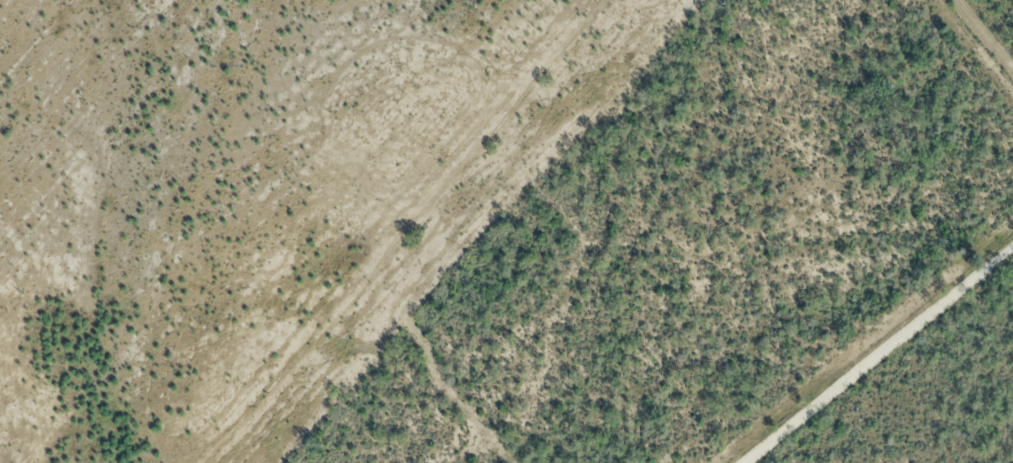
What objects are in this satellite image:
road: (878, 353)

